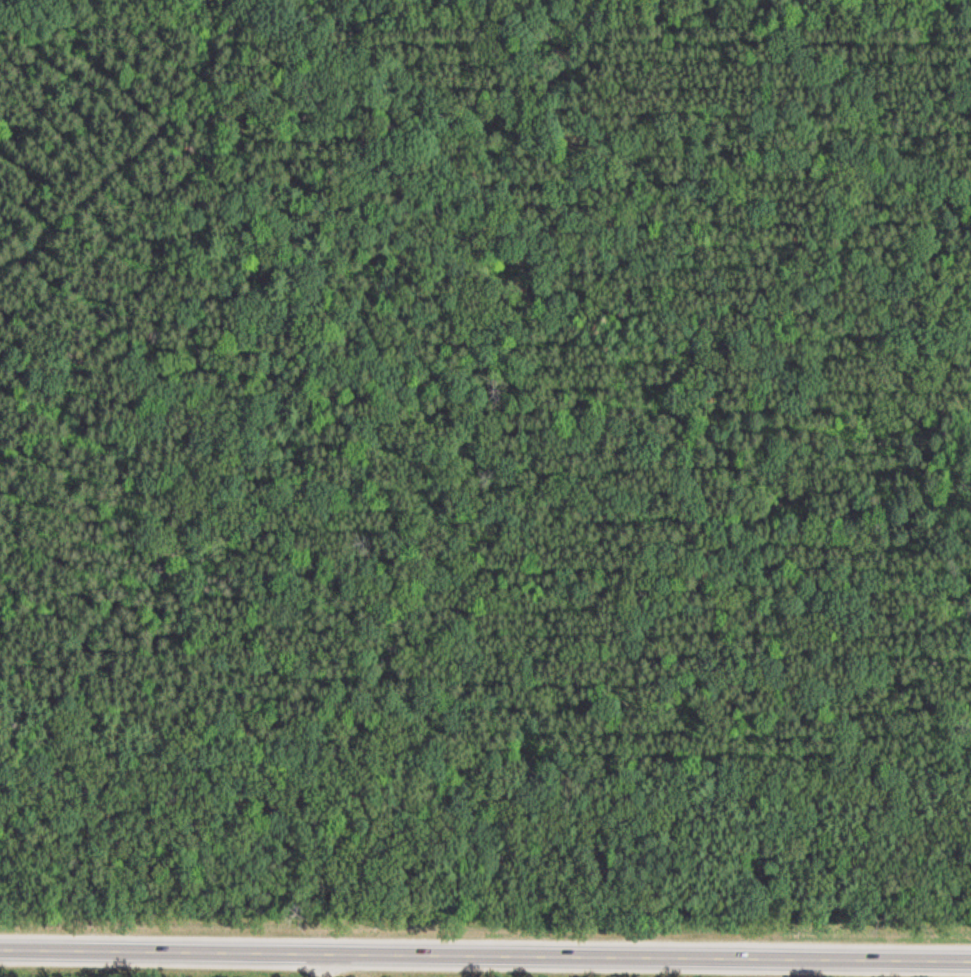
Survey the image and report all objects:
road: (71, 79)
road: (485, 953)
road: (315, 964)

